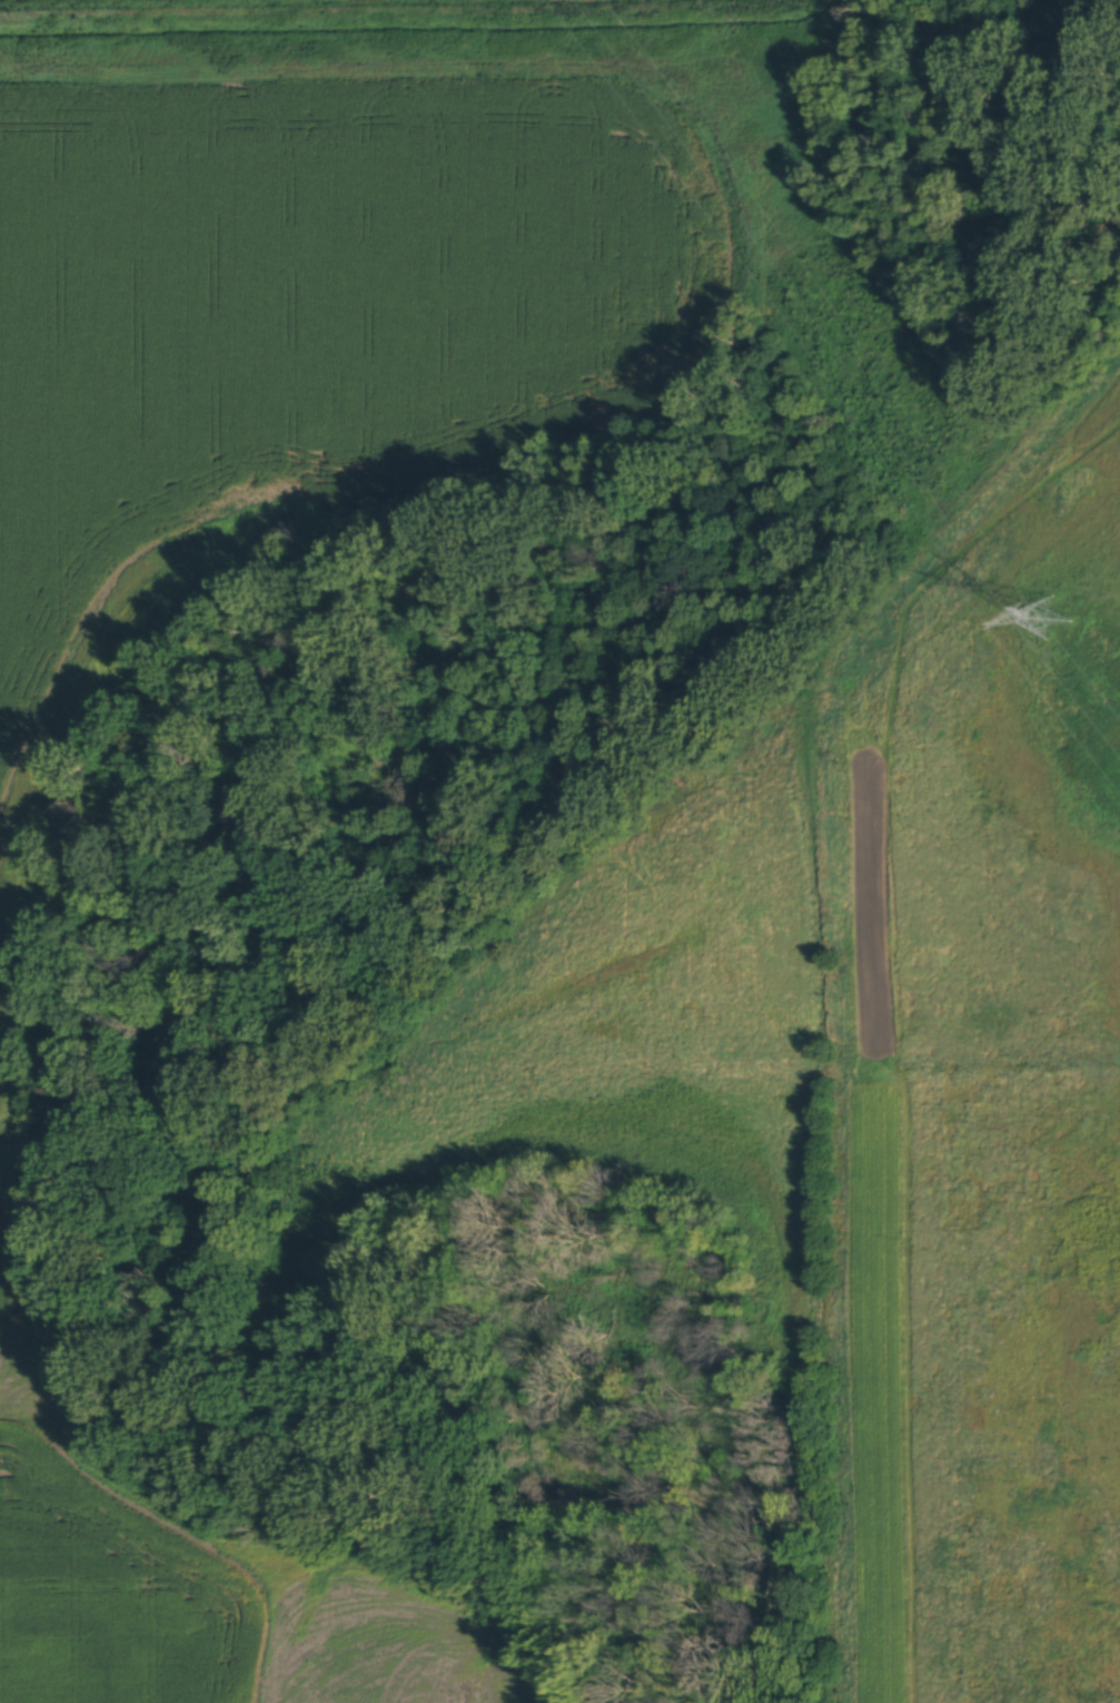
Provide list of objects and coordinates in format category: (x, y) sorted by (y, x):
power tower: (1050, 613)

